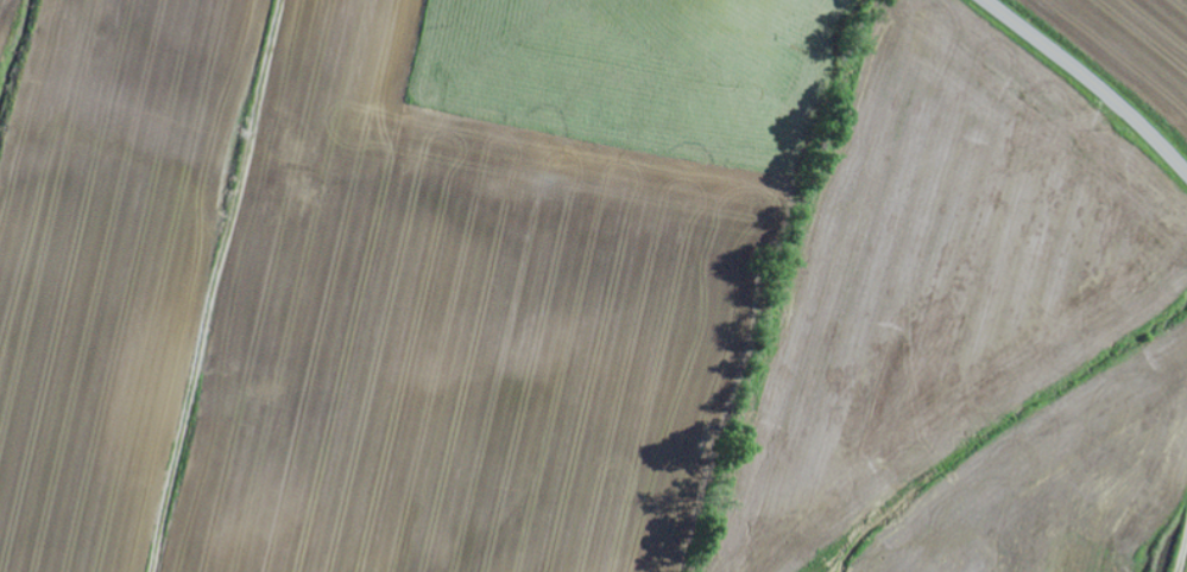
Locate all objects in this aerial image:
road: (1090, 81)
road: (1177, 544)

